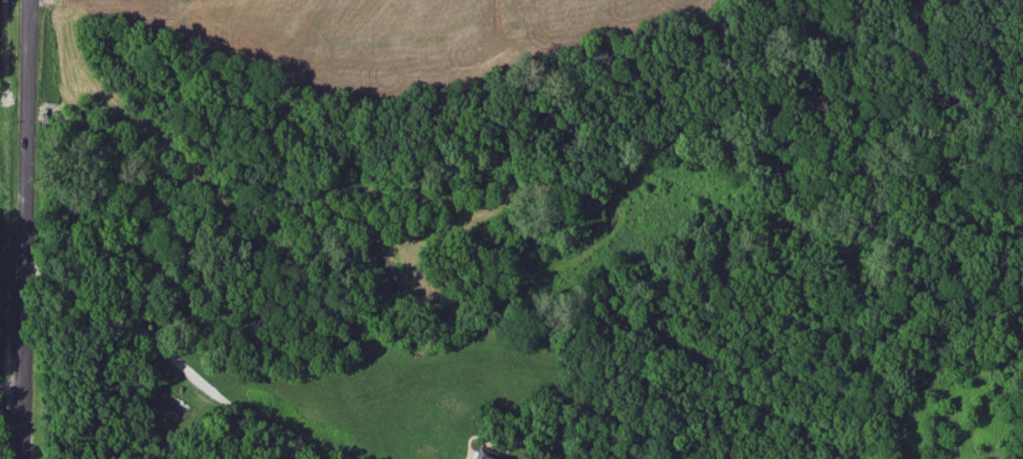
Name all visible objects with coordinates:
road: (31, 229)
road: (163, 350)
road: (12, 380)
building: (491, 456)

